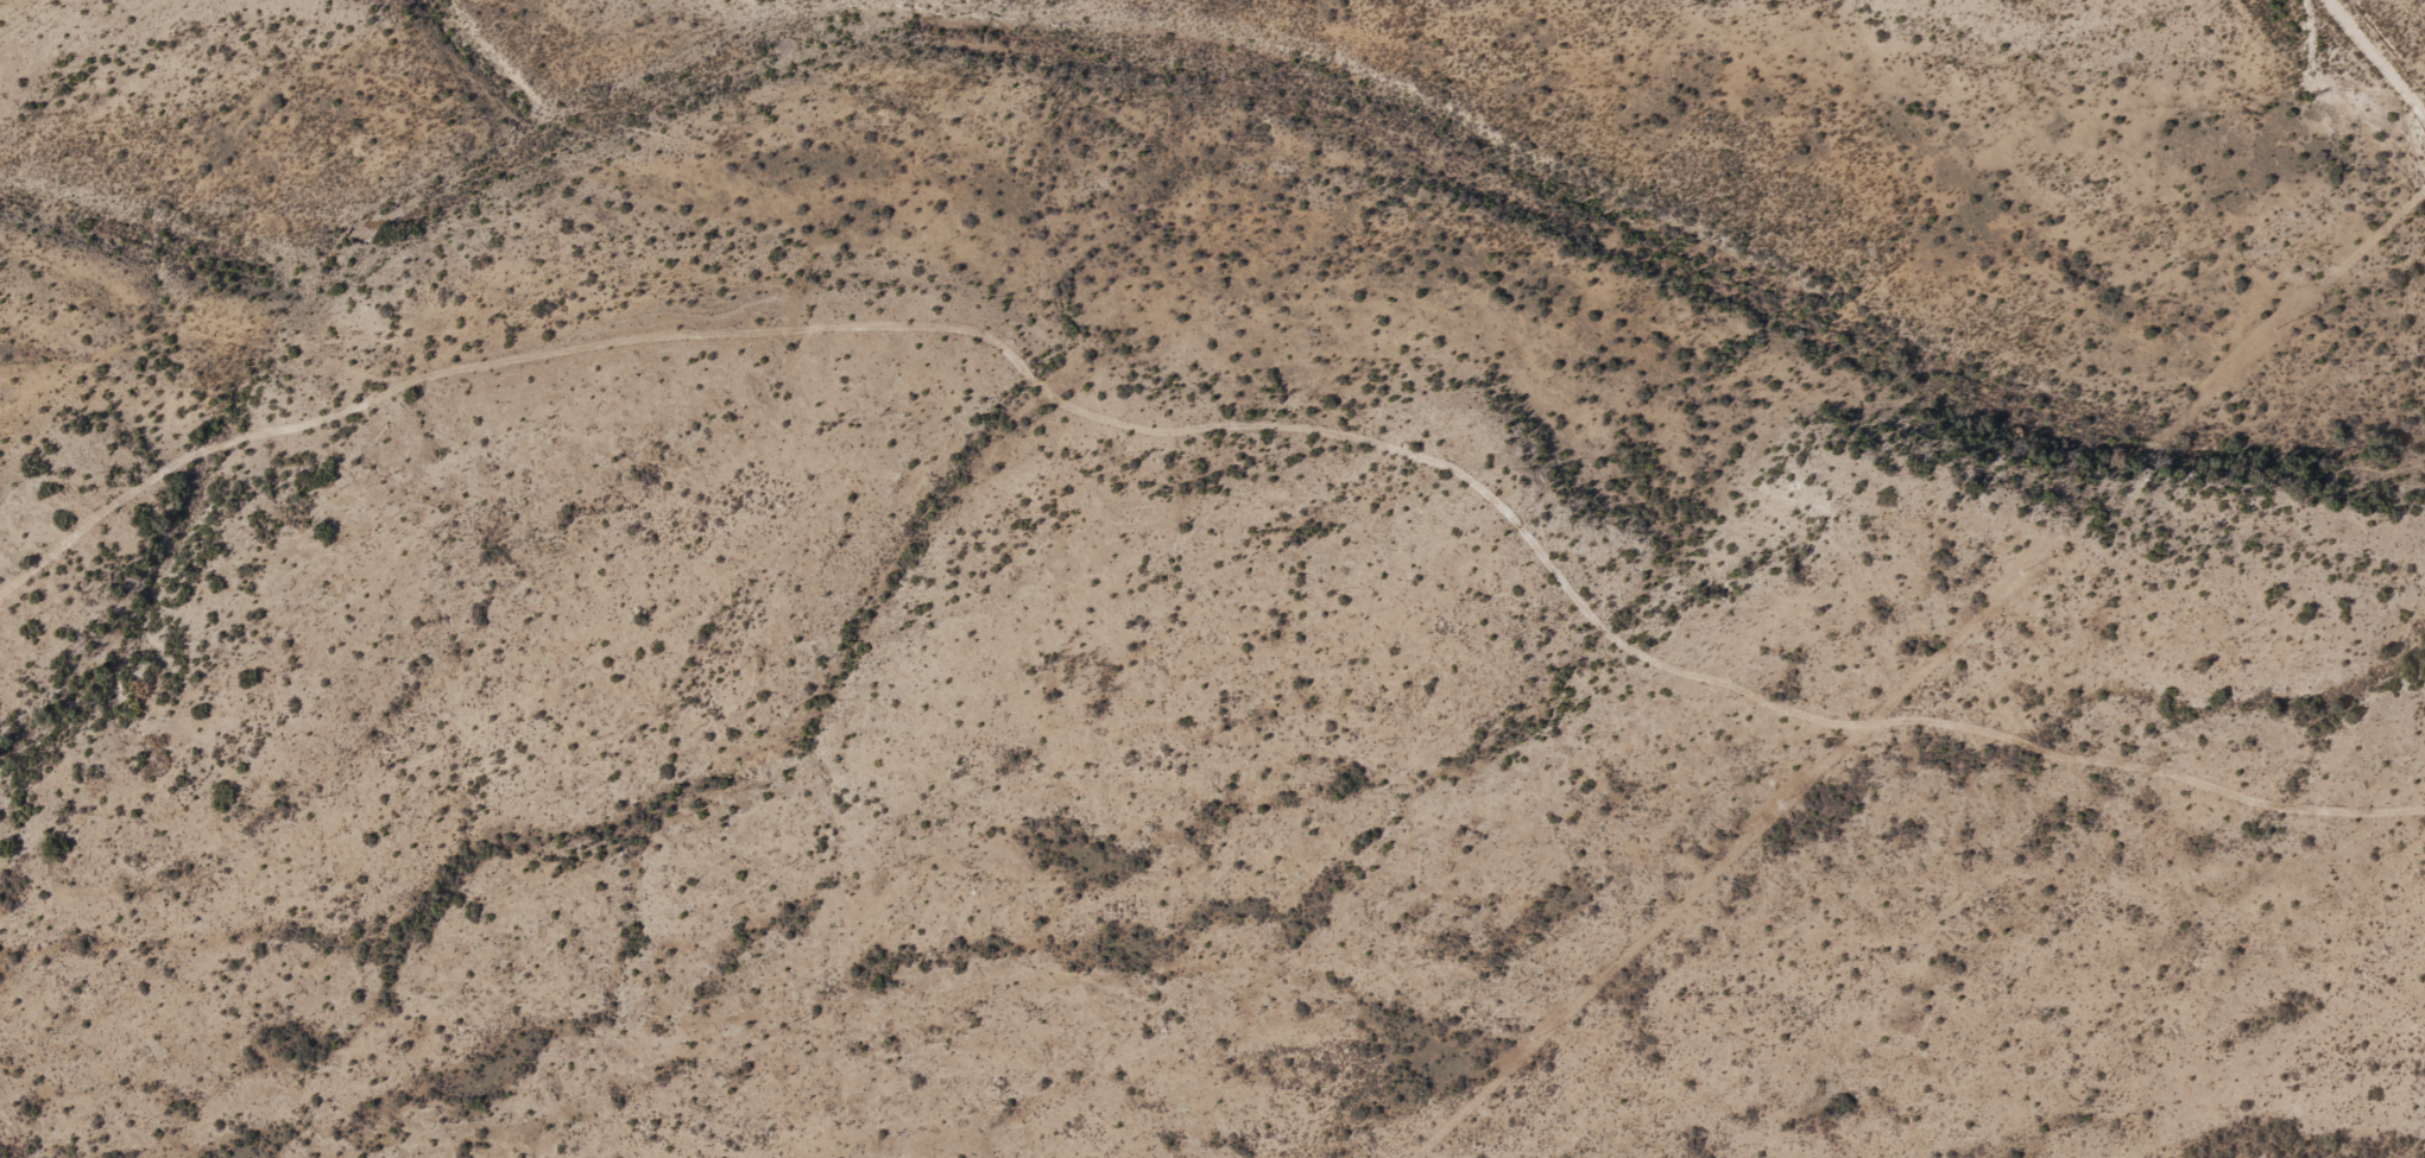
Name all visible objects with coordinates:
road: (2377, 53)

